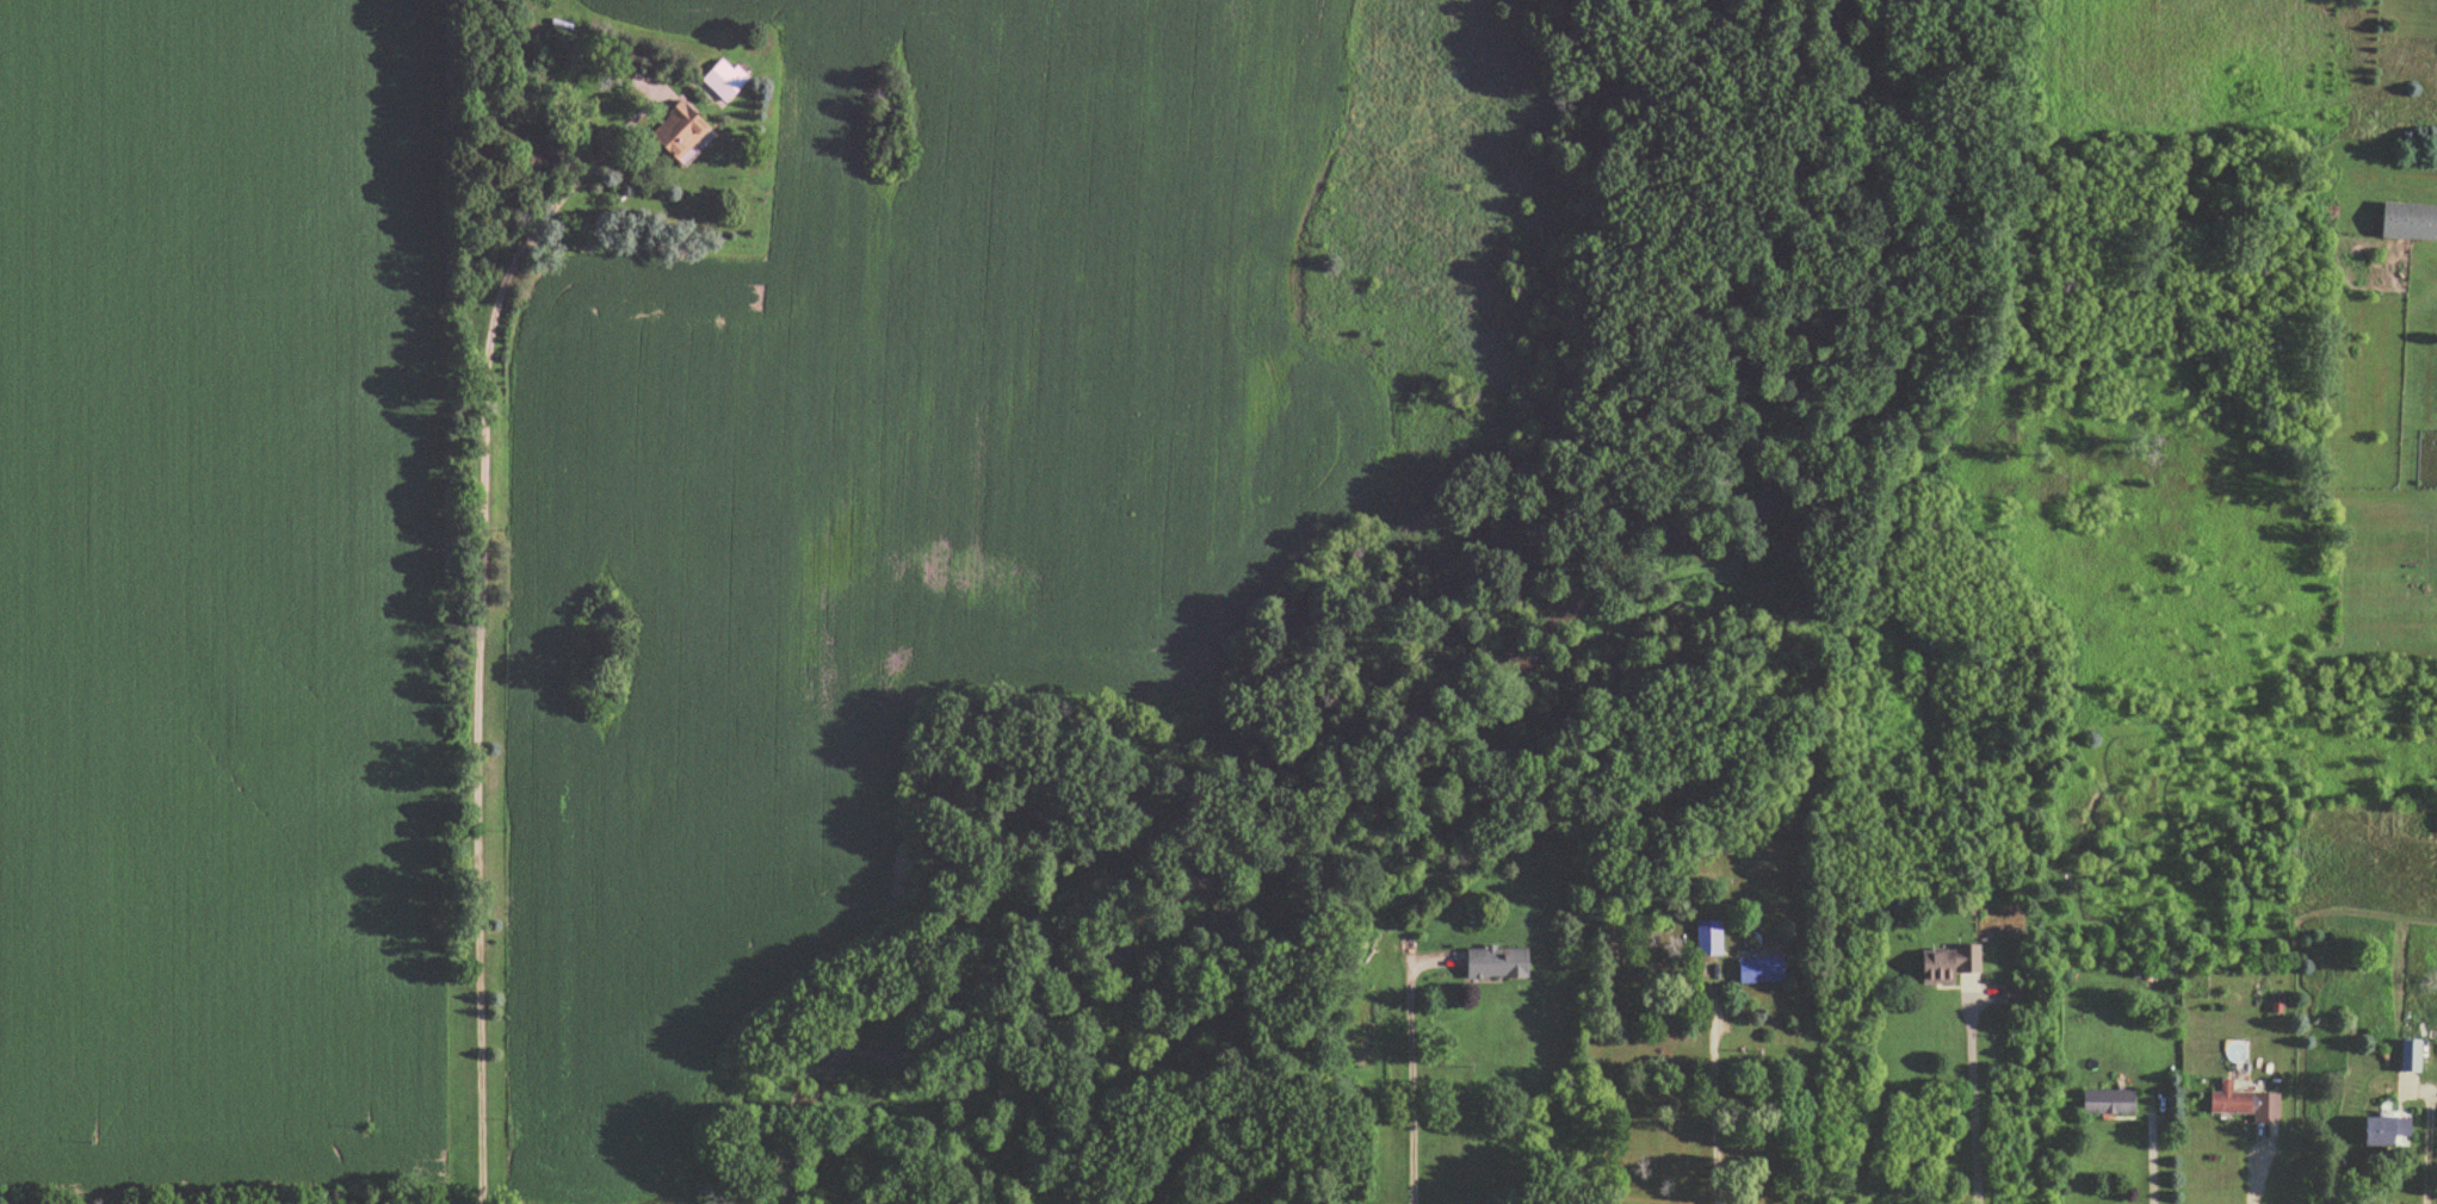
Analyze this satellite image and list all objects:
building: (717, 81)
building: (667, 131)
building: (2401, 223)
road: (480, 669)
building: (2435, 825)
building: (1703, 941)
building: (1486, 964)
building: (1941, 966)
building: (1756, 972)
building: (2400, 1057)
road: (1411, 1076)
road: (1713, 1091)
road: (1971, 1101)
building: (2225, 1101)
building: (2103, 1104)
building: (2376, 1132)
road: (2256, 1152)
road: (2425, 1152)
road: (2150, 1153)

